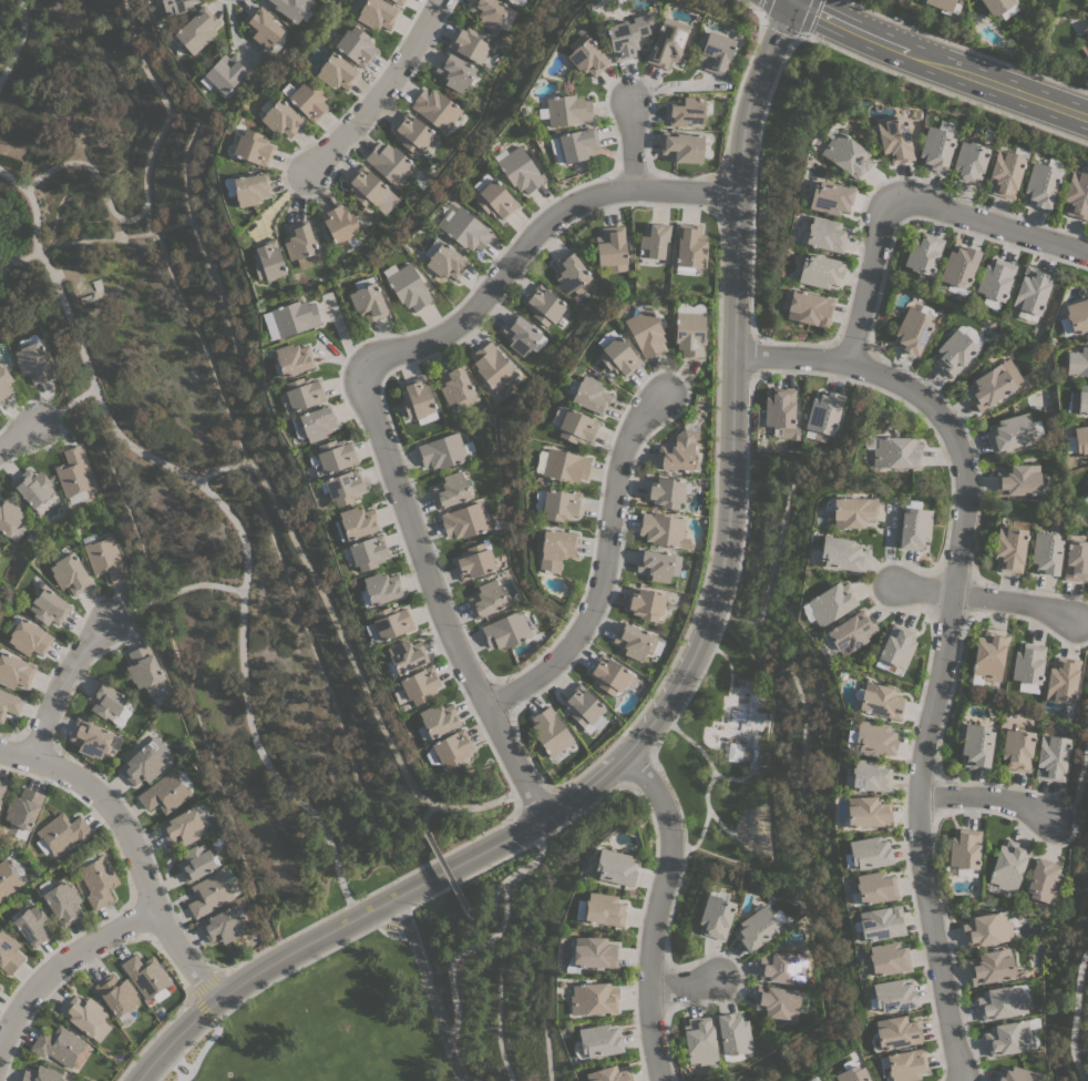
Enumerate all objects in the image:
traffic signals: (792, 0)
building: (1087, 0)
building: (398, 1)
building: (512, 1)
building: (941, 4)
building: (174, 6)
building: (995, 6)
building: (289, 7)
building: (487, 12)
building: (376, 13)
building: (265, 29)
building: (195, 30)
road: (789, 30)
building: (627, 35)
road: (800, 35)
road: (18, 40)
building: (1084, 41)
building: (667, 42)
building: (470, 43)
building: (355, 45)
building: (716, 52)
building: (586, 55)
road: (937, 64)
building: (336, 71)
building: (454, 71)
building: (223, 73)
road: (377, 89)
building: (306, 99)
building: (435, 109)
building: (565, 110)
building: (688, 111)
building: (279, 118)
building: (412, 133)
building: (894, 140)
building: (577, 144)
road: (628, 144)
building: (682, 146)
building: (253, 147)
building: (935, 149)
building: (845, 153)
building: (969, 162)
building: (389, 163)
building: (520, 170)
building: (1005, 173)
road: (144, 179)
building: (1040, 184)
building: (366, 186)
building: (250, 188)
building: (1077, 195)
building: (827, 196)
building: (494, 200)
road: (910, 200)
building: (340, 226)
building: (463, 227)
building: (825, 234)
building: (298, 241)
building: (653, 243)
building: (610, 248)
building: (689, 248)
building: (923, 253)
road: (19, 259)
building: (443, 259)
building: (268, 263)
building: (959, 266)
building: (817, 271)
building: (571, 274)
building: (995, 279)
building: (407, 286)
building: (1031, 289)
building: (367, 302)
building: (543, 305)
building: (688, 308)
building: (809, 308)
building: (1077, 316)
building: (294, 317)
building: (912, 330)
building: (645, 332)
building: (689, 334)
building: (522, 335)
building: (954, 353)
building: (616, 354)
building: (291, 358)
building: (1077, 361)
building: (33, 363)
building: (492, 367)
building: (4, 383)
building: (993, 384)
building: (455, 386)
road: (365, 392)
building: (301, 394)
building: (589, 395)
building: (1081, 399)
building: (418, 400)
road: (65, 402)
building: (823, 412)
building: (781, 414)
building: (314, 424)
building: (574, 425)
building: (1013, 431)
road: (20, 434)
building: (1080, 440)
building: (678, 450)
building: (442, 451)
building: (893, 451)
building: (332, 457)
road: (238, 463)
building: (561, 466)
building: (73, 472)
building: (1018, 480)
building: (32, 487)
building: (342, 487)
building: (450, 489)
building: (666, 491)
building: (1085, 499)
building: (560, 504)
building: (850, 511)
building: (9, 516)
building: (465, 520)
building: (355, 522)
building: (913, 526)
building: (663, 529)
building: (555, 549)
building: (1009, 549)
building: (366, 552)
building: (1045, 552)
building: (839, 553)
building: (104, 558)
building: (1076, 560)
building: (474, 561)
building: (658, 564)
road: (602, 570)
building: (69, 573)
building: (379, 589)
road: (174, 591)
building: (486, 599)
road: (984, 599)
building: (645, 603)
building: (831, 603)
building: (48, 606)
building: (391, 622)
road: (1085, 624)
building: (505, 630)
building: (849, 632)
building: (28, 636)
road: (945, 636)
building: (634, 641)
building: (895, 649)
building: (406, 655)
building: (988, 655)
building: (1027, 666)
building: (144, 669)
building: (14, 671)
building: (608, 674)
road: (686, 676)
building: (1061, 680)
road: (61, 682)
building: (419, 685)
building: (105, 701)
building: (879, 701)
building: (9, 703)
road: (245, 705)
building: (582, 705)
building: (438, 718)
building: (550, 732)
building: (870, 737)
building: (91, 738)
building: (976, 744)
building: (451, 748)
building: (1016, 748)
building: (756, 753)
building: (1050, 757)
building: (142, 764)
building: (869, 776)
road: (1077, 783)
building: (2, 788)
building: (164, 793)
road: (986, 798)
road: (481, 805)
building: (23, 808)
building: (866, 812)
building: (183, 826)
building: (63, 832)
road: (131, 849)
building: (964, 851)
building: (866, 854)
building: (196, 861)
road: (531, 863)
building: (613, 867)
building: (1007, 867)
road: (442, 871)
building: (8, 879)
building: (1043, 880)
building: (97, 881)
building: (874, 887)
road: (369, 891)
building: (208, 894)
building: (62, 902)
building: (601, 909)
road: (656, 909)
building: (715, 914)
road: (391, 918)
building: (880, 924)
building: (31, 925)
building: (223, 925)
building: (758, 927)
building: (986, 929)
road: (491, 938)
building: (9, 952)
building: (592, 953)
building: (886, 958)
road: (62, 961)
building: (991, 967)
building: (782, 968)
building: (146, 977)
road: (685, 985)
road: (427, 989)
building: (892, 995)
road: (191, 996)
building: (117, 997)
building: (593, 998)
building: (777, 1001)
building: (1000, 1002)
road: (1074, 1014)
building: (86, 1017)
building: (894, 1033)
building: (733, 1036)
building: (1008, 1038)
building: (700, 1040)
building: (597, 1041)
building: (58, 1046)
building: (905, 1064)
building: (851, 1072)
building: (41, 1074)
building: (608, 1074)
building: (1018, 1074)

